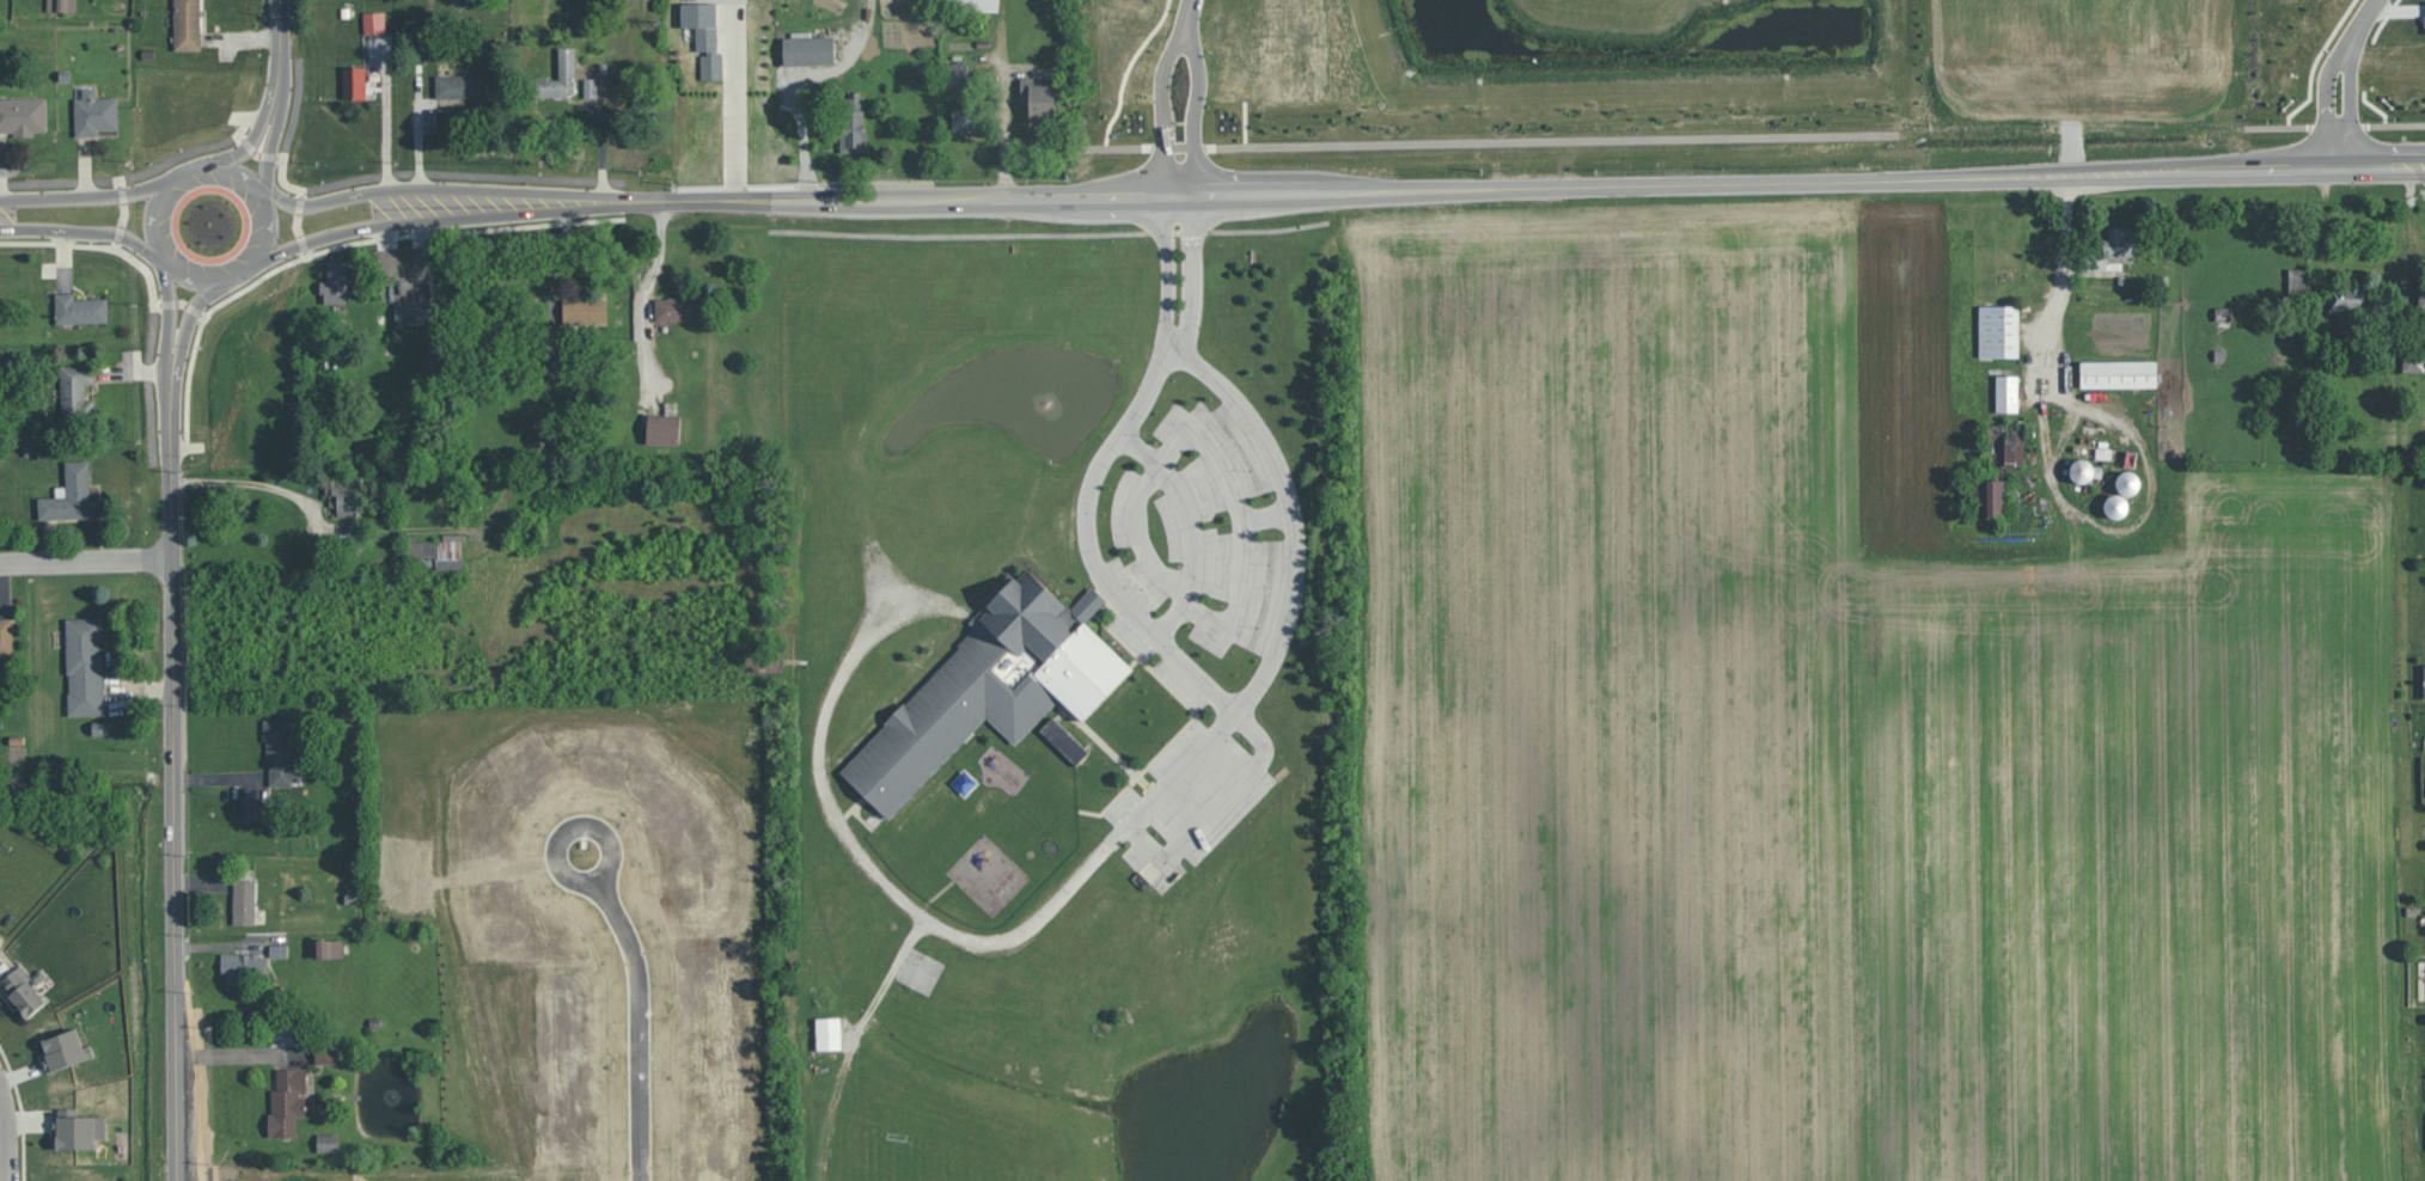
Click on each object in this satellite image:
building: (970, 4)
building: (61, 5)
building: (691, 8)
road: (1187, 20)
road: (2362, 20)
building: (374, 22)
building: (188, 25)
road: (279, 25)
road: (1181, 42)
road: (2347, 43)
building: (808, 50)
building: (711, 66)
building: (957, 74)
building: (560, 75)
road: (788, 77)
building: (354, 82)
building: (590, 87)
building: (457, 88)
building: (1039, 96)
road: (733, 98)
building: (94, 112)
building: (23, 115)
building: (966, 118)
road: (261, 120)
road: (277, 120)
building: (851, 123)
road: (1178, 146)
road: (1656, 184)
road: (462, 188)
road: (835, 195)
road: (85, 197)
road: (726, 198)
road: (460, 218)
road: (90, 231)
road: (154, 240)
building: (2118, 249)
road: (1163, 270)
road: (1191, 275)
building: (2298, 281)
building: (335, 282)
building: (2345, 296)
building: (2421, 299)
building: (80, 308)
building: (678, 308)
building: (584, 310)
building: (411, 313)
building: (1998, 330)
road: (181, 351)
road: (165, 353)
building: (2413, 360)
building: (556, 369)
building: (2118, 373)
building: (75, 387)
building: (2006, 392)
building: (664, 428)
building: (2006, 447)
building: (2084, 471)
road: (2050, 482)
building: (2127, 483)
road: (268, 485)
building: (72, 495)
building: (344, 495)
building: (1989, 497)
building: (2114, 504)
road: (1289, 516)
building: (436, 552)
road: (85, 562)
building: (6, 636)
building: (85, 666)
building: (2424, 680)
building: (992, 686)
building: (1063, 740)
building: (282, 757)
road: (236, 802)
building: (255, 808)
road: (173, 809)
road: (1114, 837)
building: (244, 901)
building: (328, 948)
building: (244, 966)
building: (23, 991)
road: (642, 1010)
building: (829, 1033)
building: (65, 1050)
building: (325, 1052)
road: (237, 1055)
building: (287, 1101)
building: (73, 1128)
road: (5, 1136)
building: (328, 1142)

